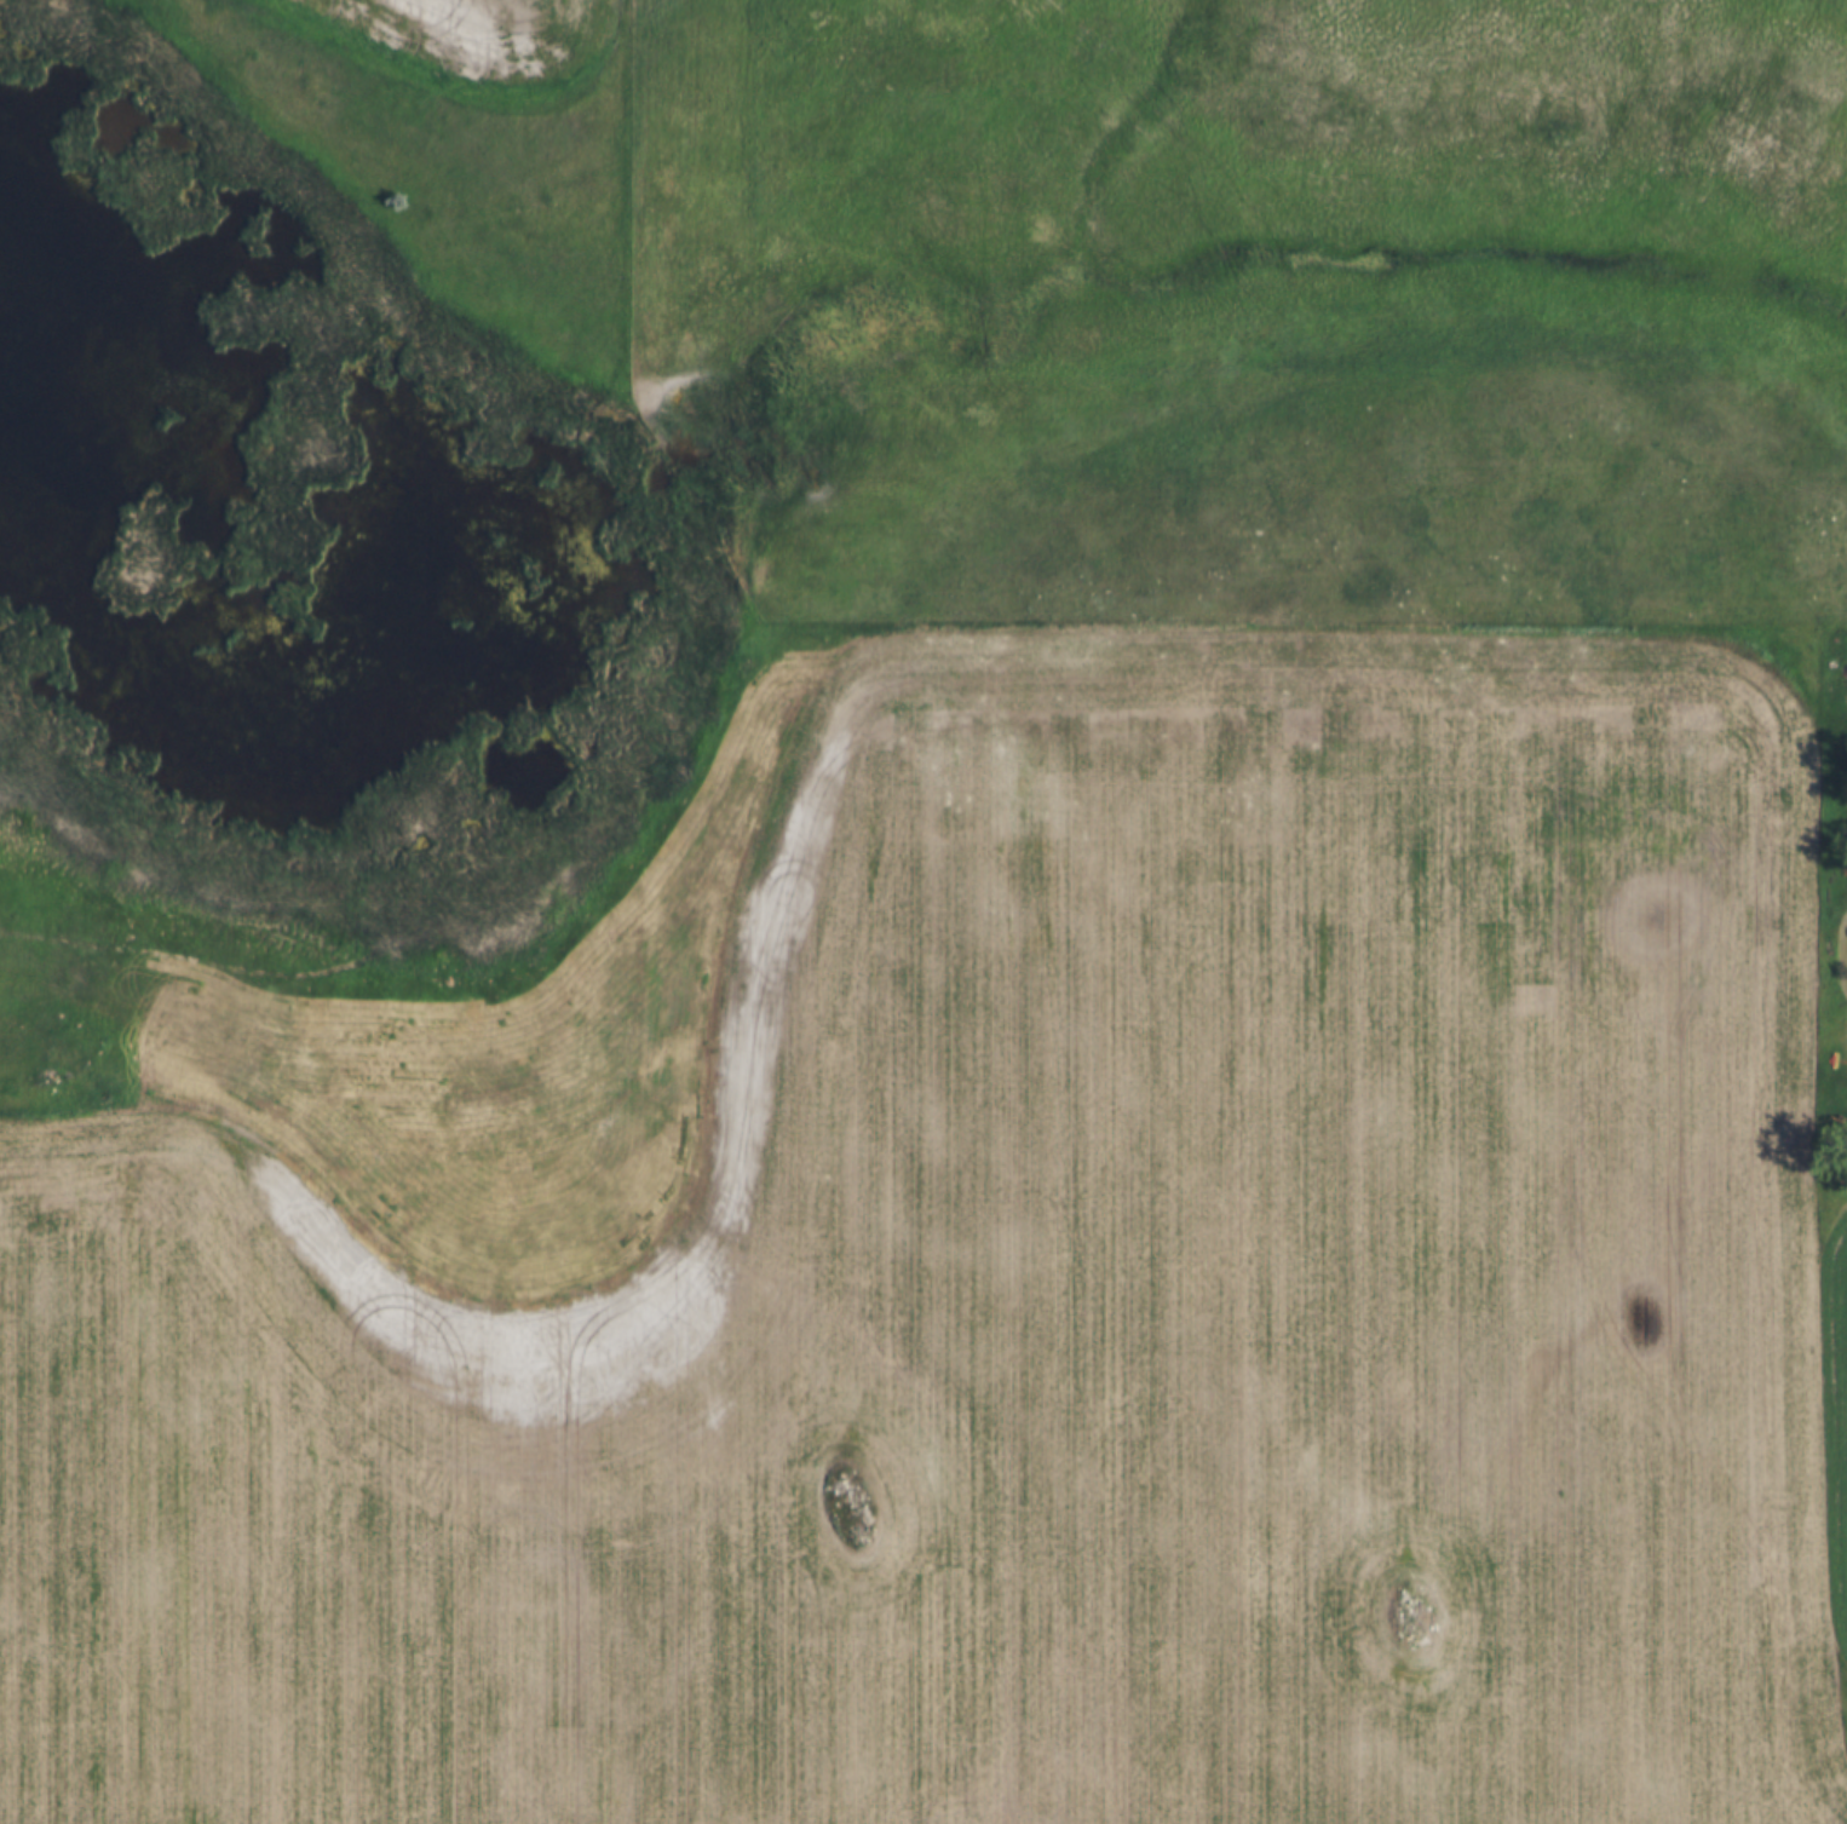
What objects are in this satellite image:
building: (1843, 677)

